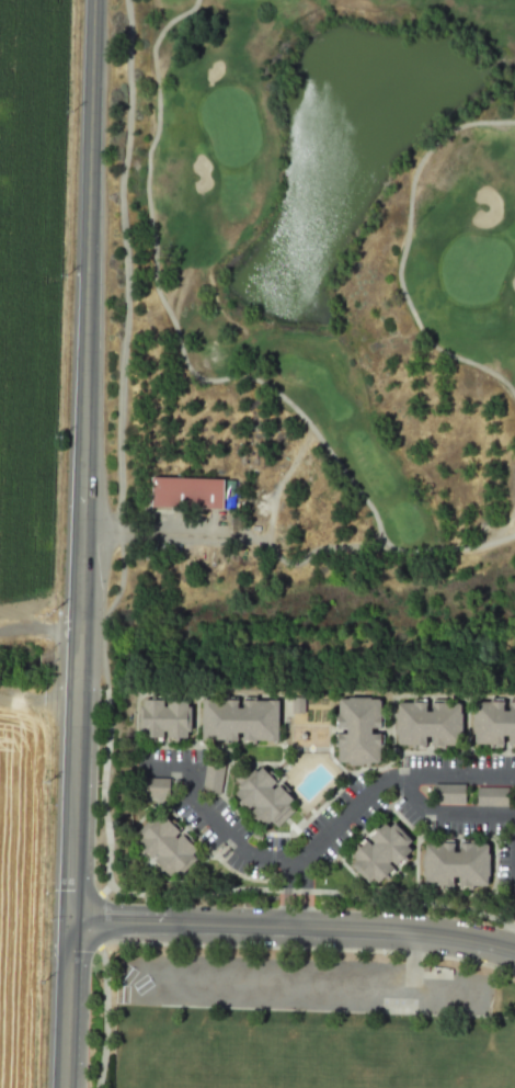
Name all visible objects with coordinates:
road: (403, 253)
road: (121, 344)
park: (325, 348)
road: (197, 378)
road: (85, 458)
building: (191, 494)
road: (234, 534)
street lamp: (99, 688)
road: (39, 695)
building: (167, 724)
building: (242, 725)
building: (495, 727)
building: (431, 729)
building: (363, 737)
building: (213, 779)
road: (387, 783)
street lamp: (96, 785)
road: (102, 785)
building: (153, 789)
building: (448, 793)
building: (491, 796)
building: (264, 800)
road: (444, 820)
road: (228, 830)
building: (165, 846)
building: (386, 858)
building: (458, 869)
street lamp: (93, 877)
crop: (18, 881)
road: (312, 891)
road: (304, 892)
road: (286, 894)
road: (294, 923)
street lamp: (381, 954)
road: (413, 957)
street lamp: (92, 965)
parking lot: (307, 982)
road: (103, 984)
road: (69, 1002)
park: (296, 1020)
park: (201, 1061)
street lamp: (89, 1063)
park: (377, 1064)
park: (497, 1067)

